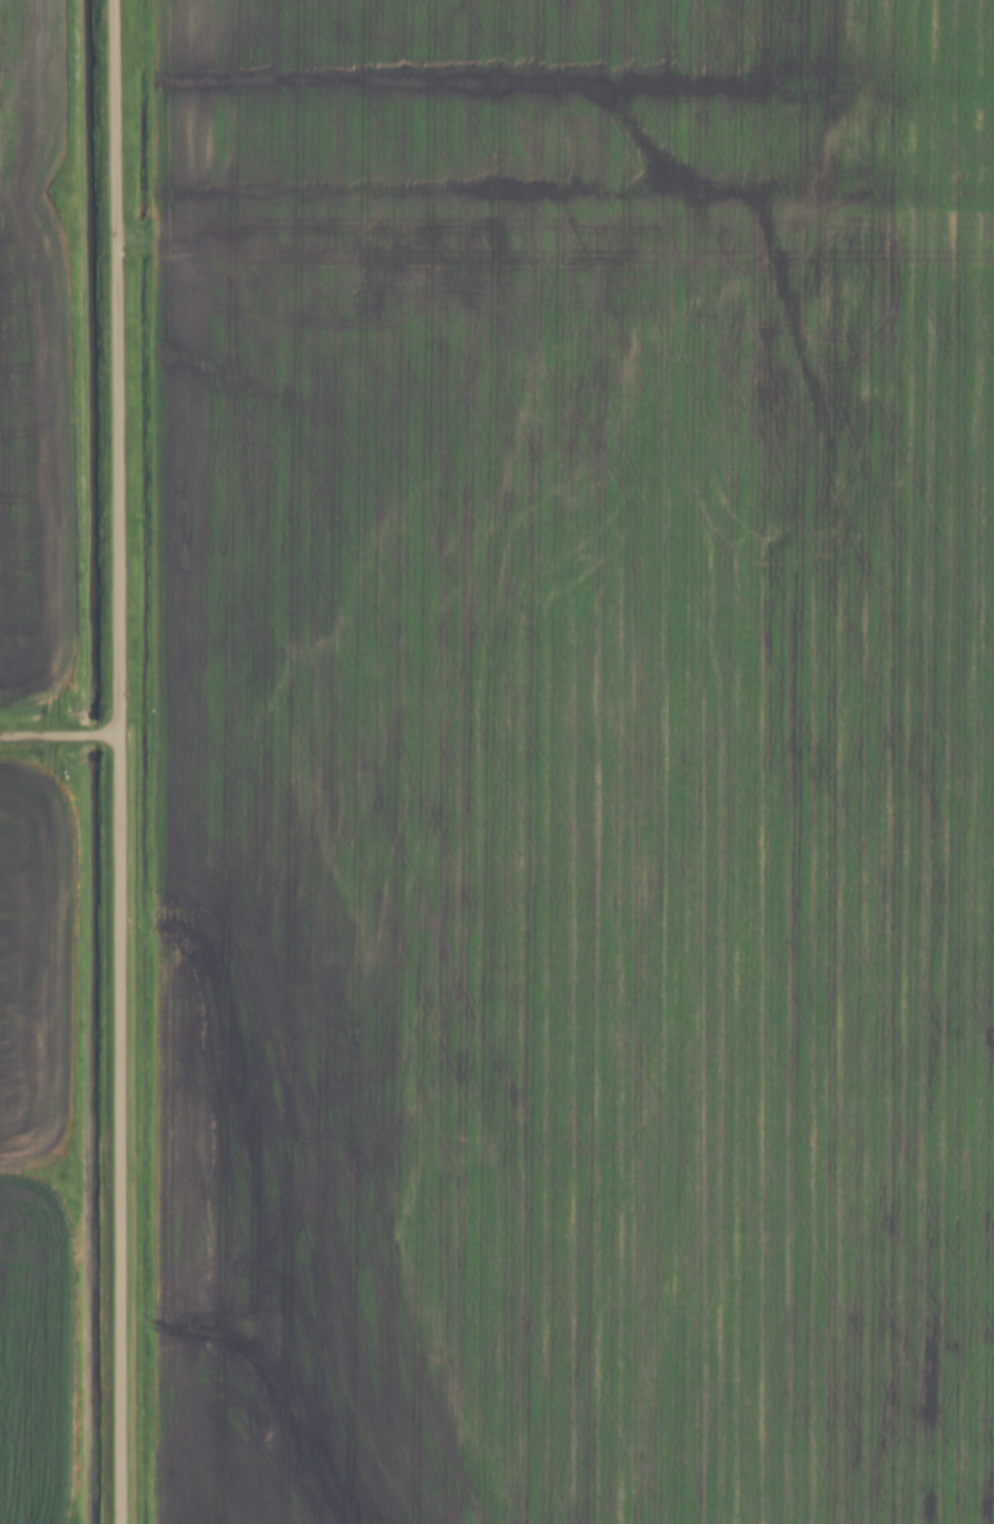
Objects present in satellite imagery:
road: (62, 733)
road: (125, 761)

